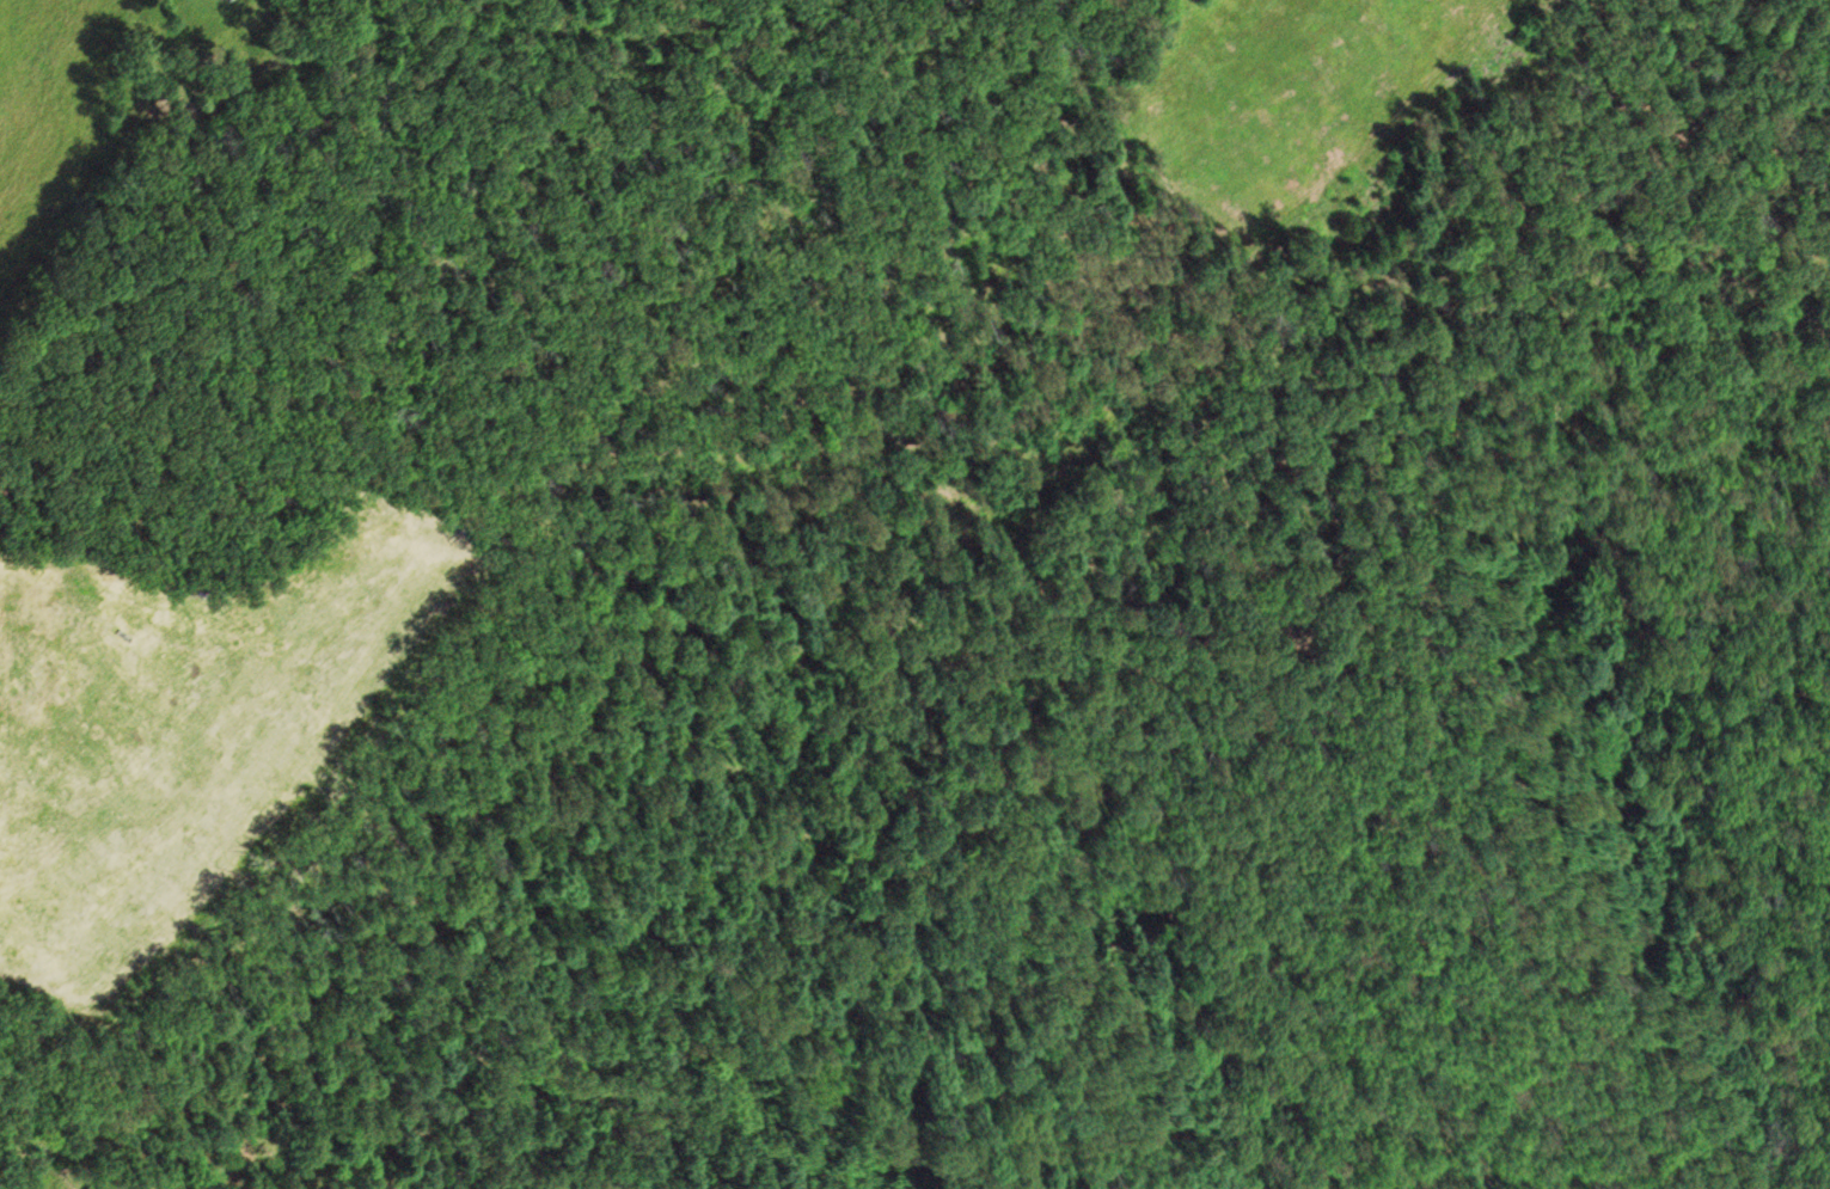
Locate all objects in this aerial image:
road: (96, 1140)

